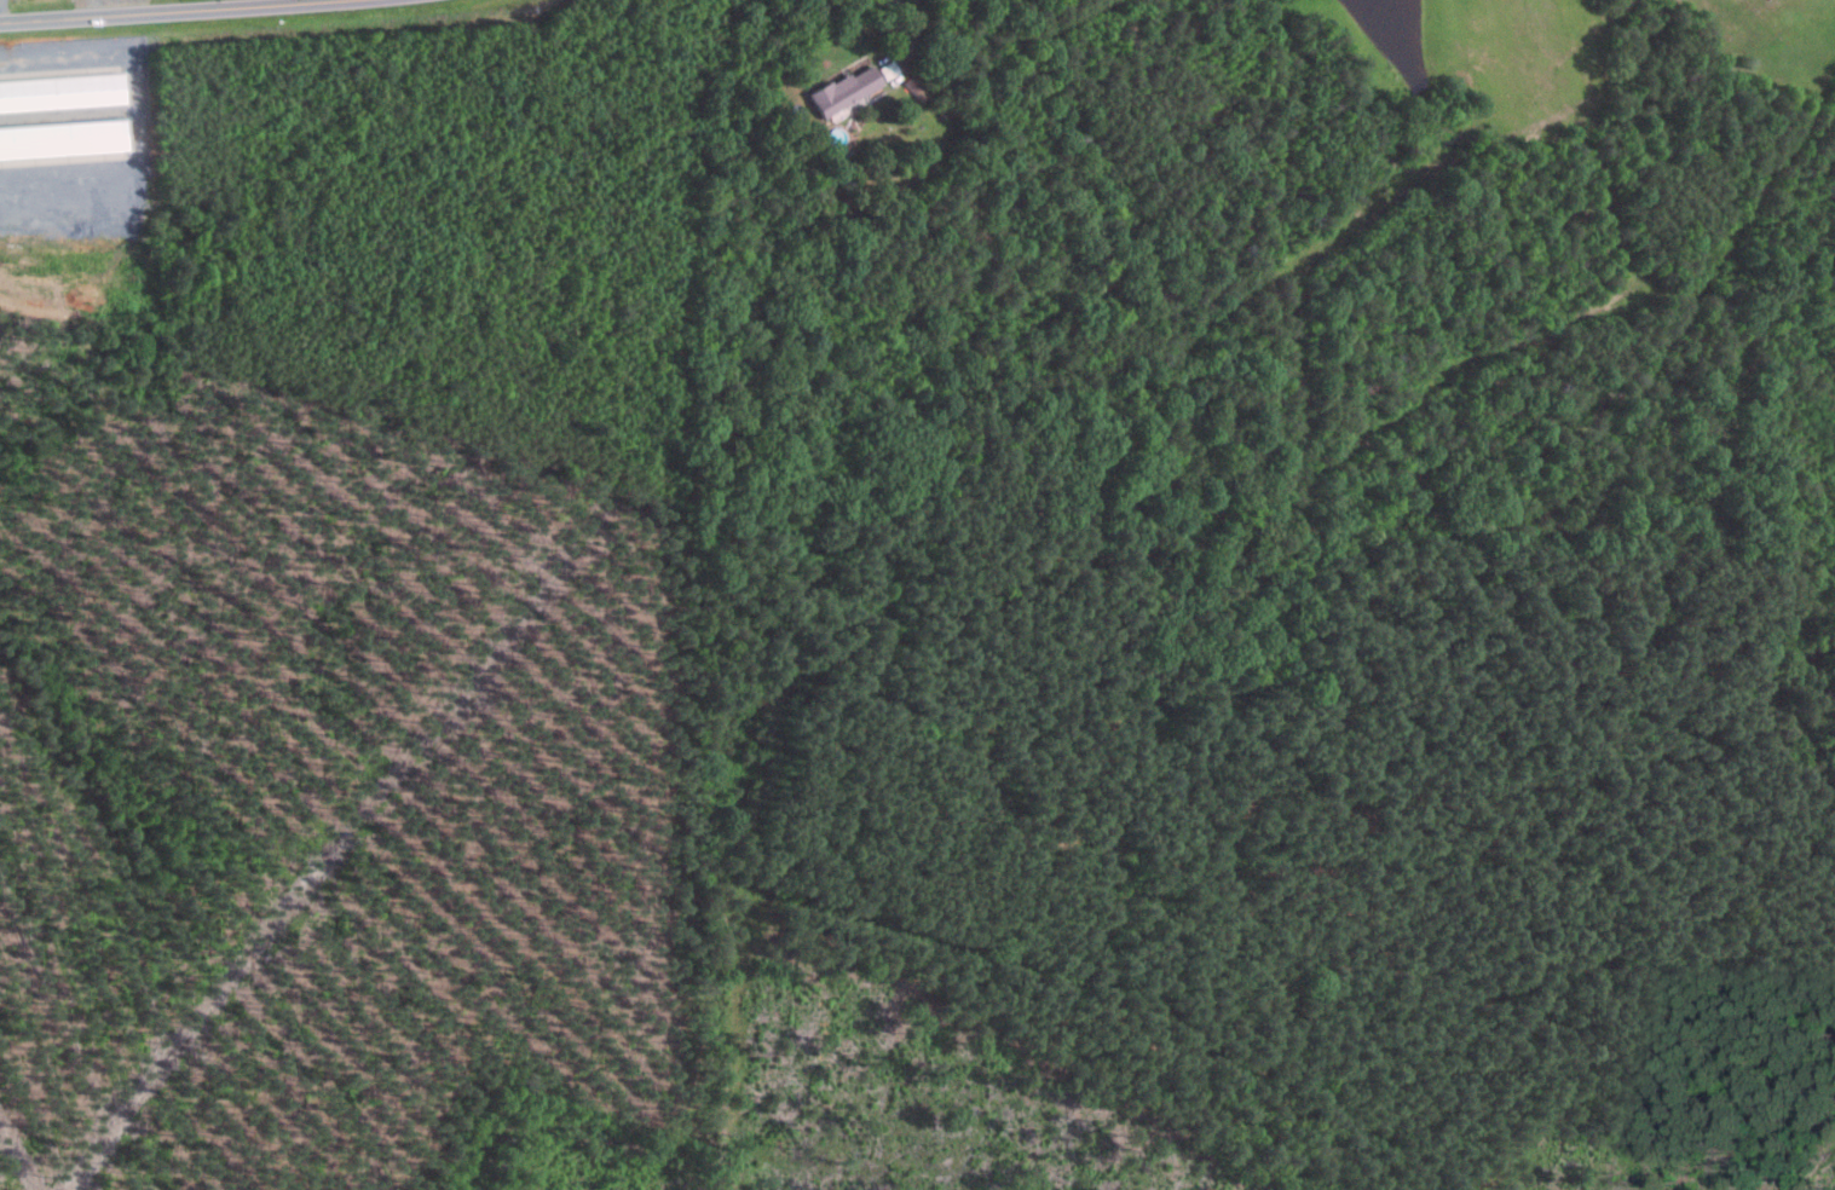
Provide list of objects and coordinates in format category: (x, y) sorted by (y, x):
road: (169, 10)
road: (908, 29)
building: (839, 89)
building: (57, 92)
building: (59, 143)

